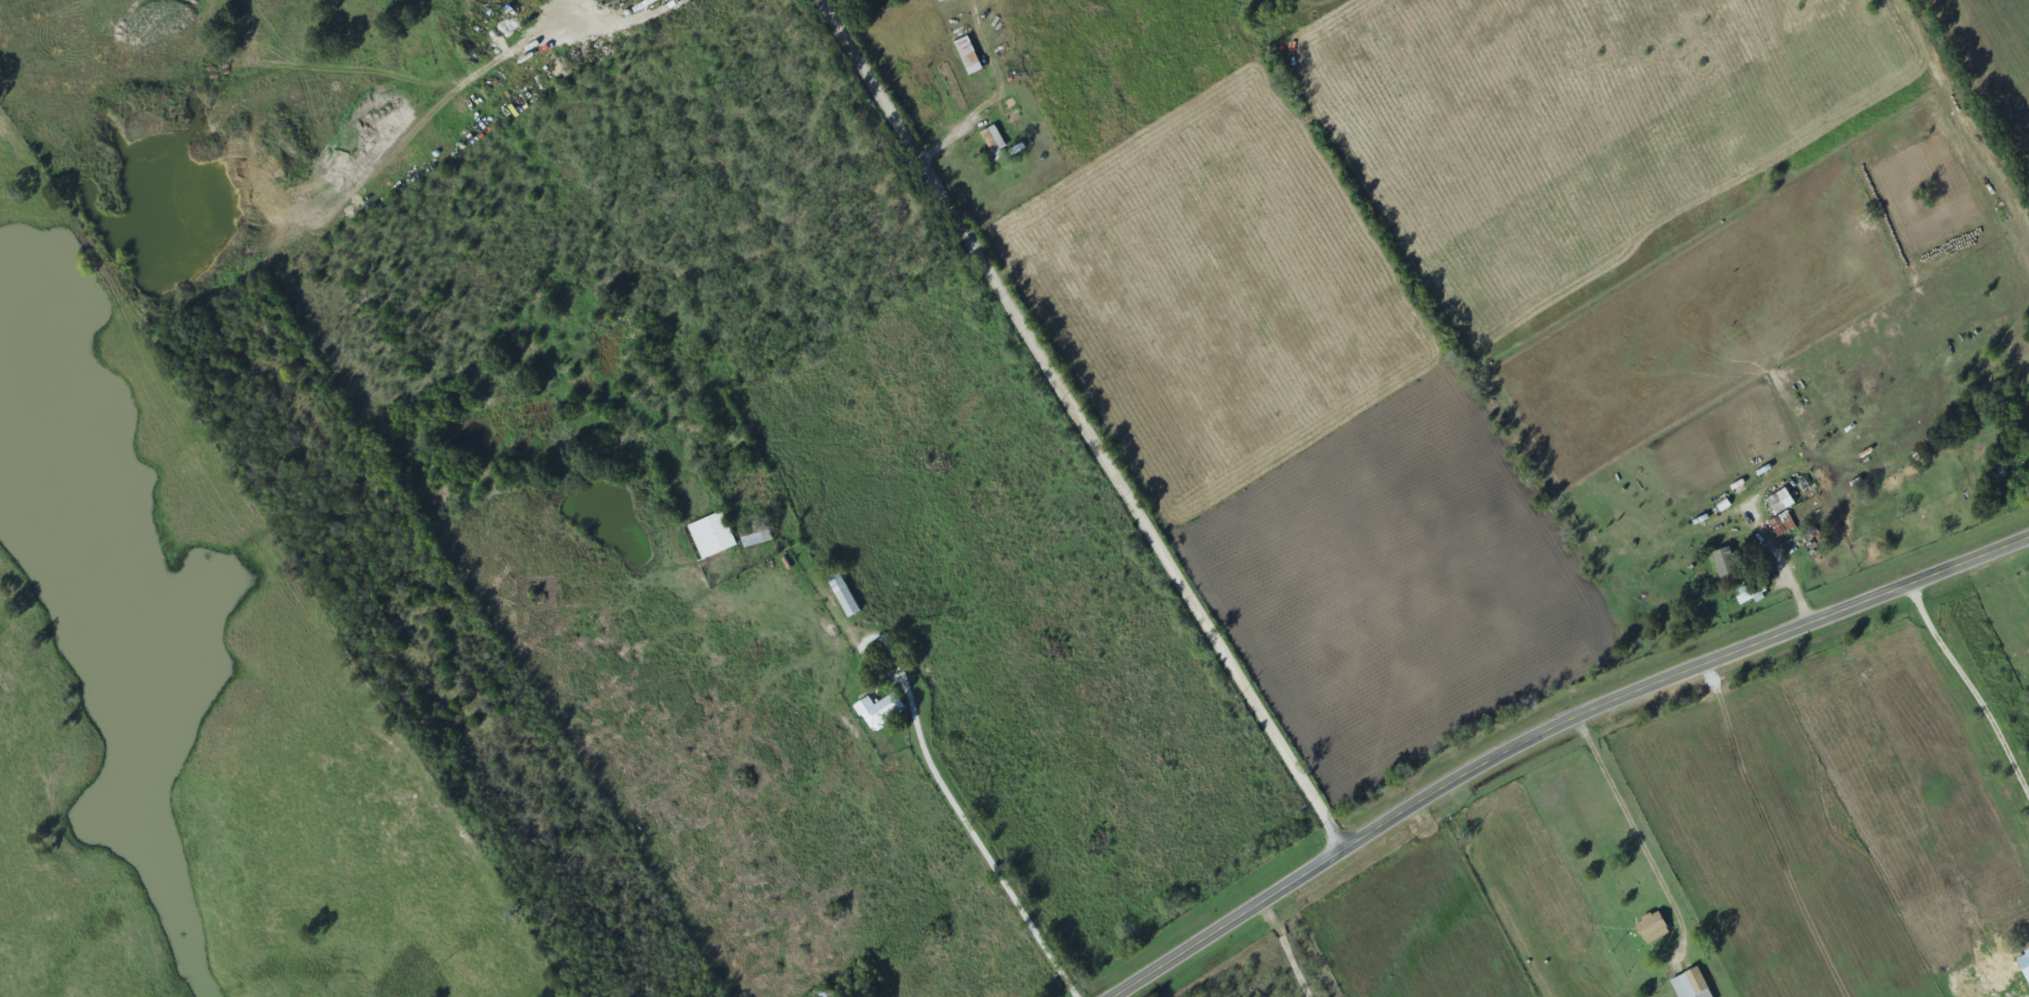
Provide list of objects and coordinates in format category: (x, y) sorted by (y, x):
building: (654, 0)
building: (966, 57)
road: (1948, 143)
building: (993, 144)
road: (1081, 427)
building: (1778, 502)
building: (1781, 525)
building: (710, 536)
building: (1724, 564)
building: (878, 710)
road: (1552, 734)
building: (1649, 929)
building: (2023, 967)
building: (1687, 985)

